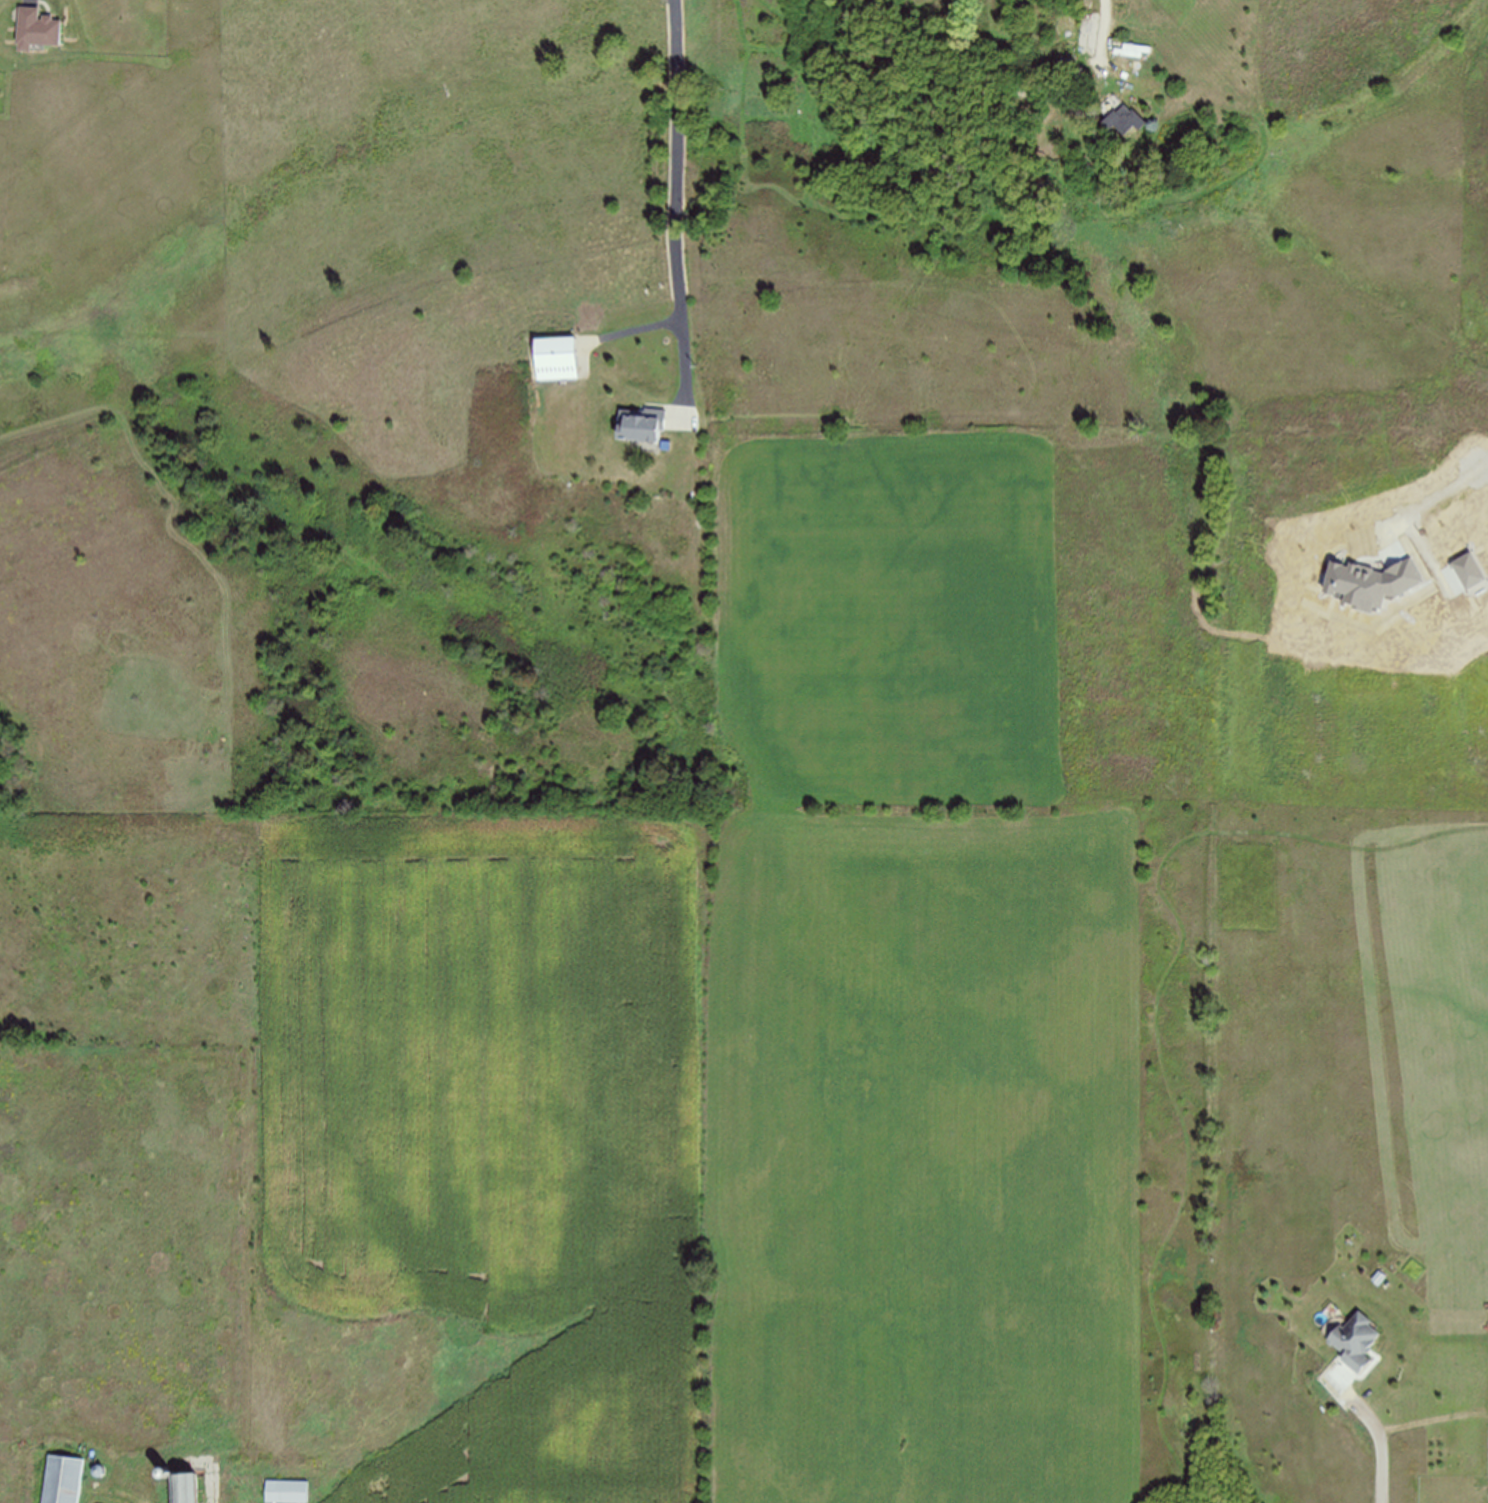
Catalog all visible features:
road: (29, 1)
building: (1022, 2)
building: (1086, 2)
building: (1042, 3)
building: (1055, 3)
building: (1070, 3)
building: (35, 30)
building: (1040, 34)
building: (1069, 35)
building: (1089, 35)
road: (1106, 38)
building: (1125, 120)
road: (676, 207)
road: (633, 329)
building: (557, 359)
building: (640, 425)
building: (1379, 1277)
building: (1355, 1341)
road: (1380, 1432)
building: (62, 1480)
building: (182, 1488)
road: (118, 1491)
building: (288, 1491)

